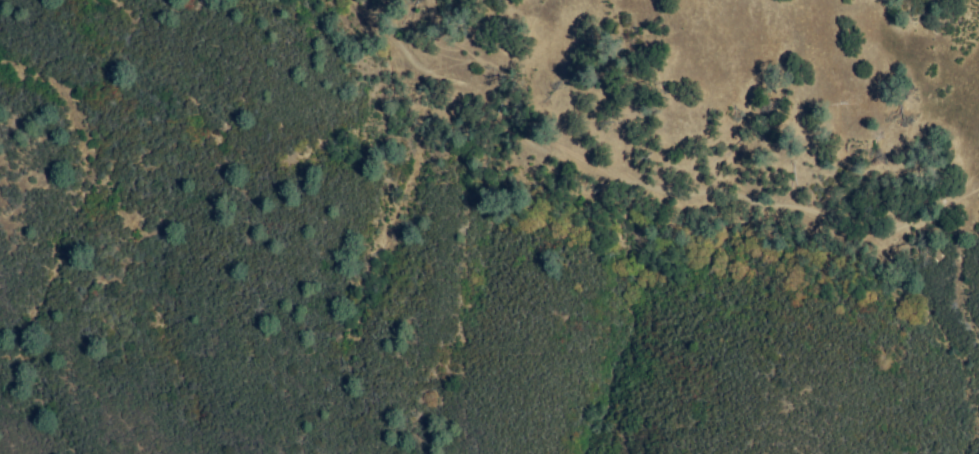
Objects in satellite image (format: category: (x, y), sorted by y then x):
road: (636, 177)

